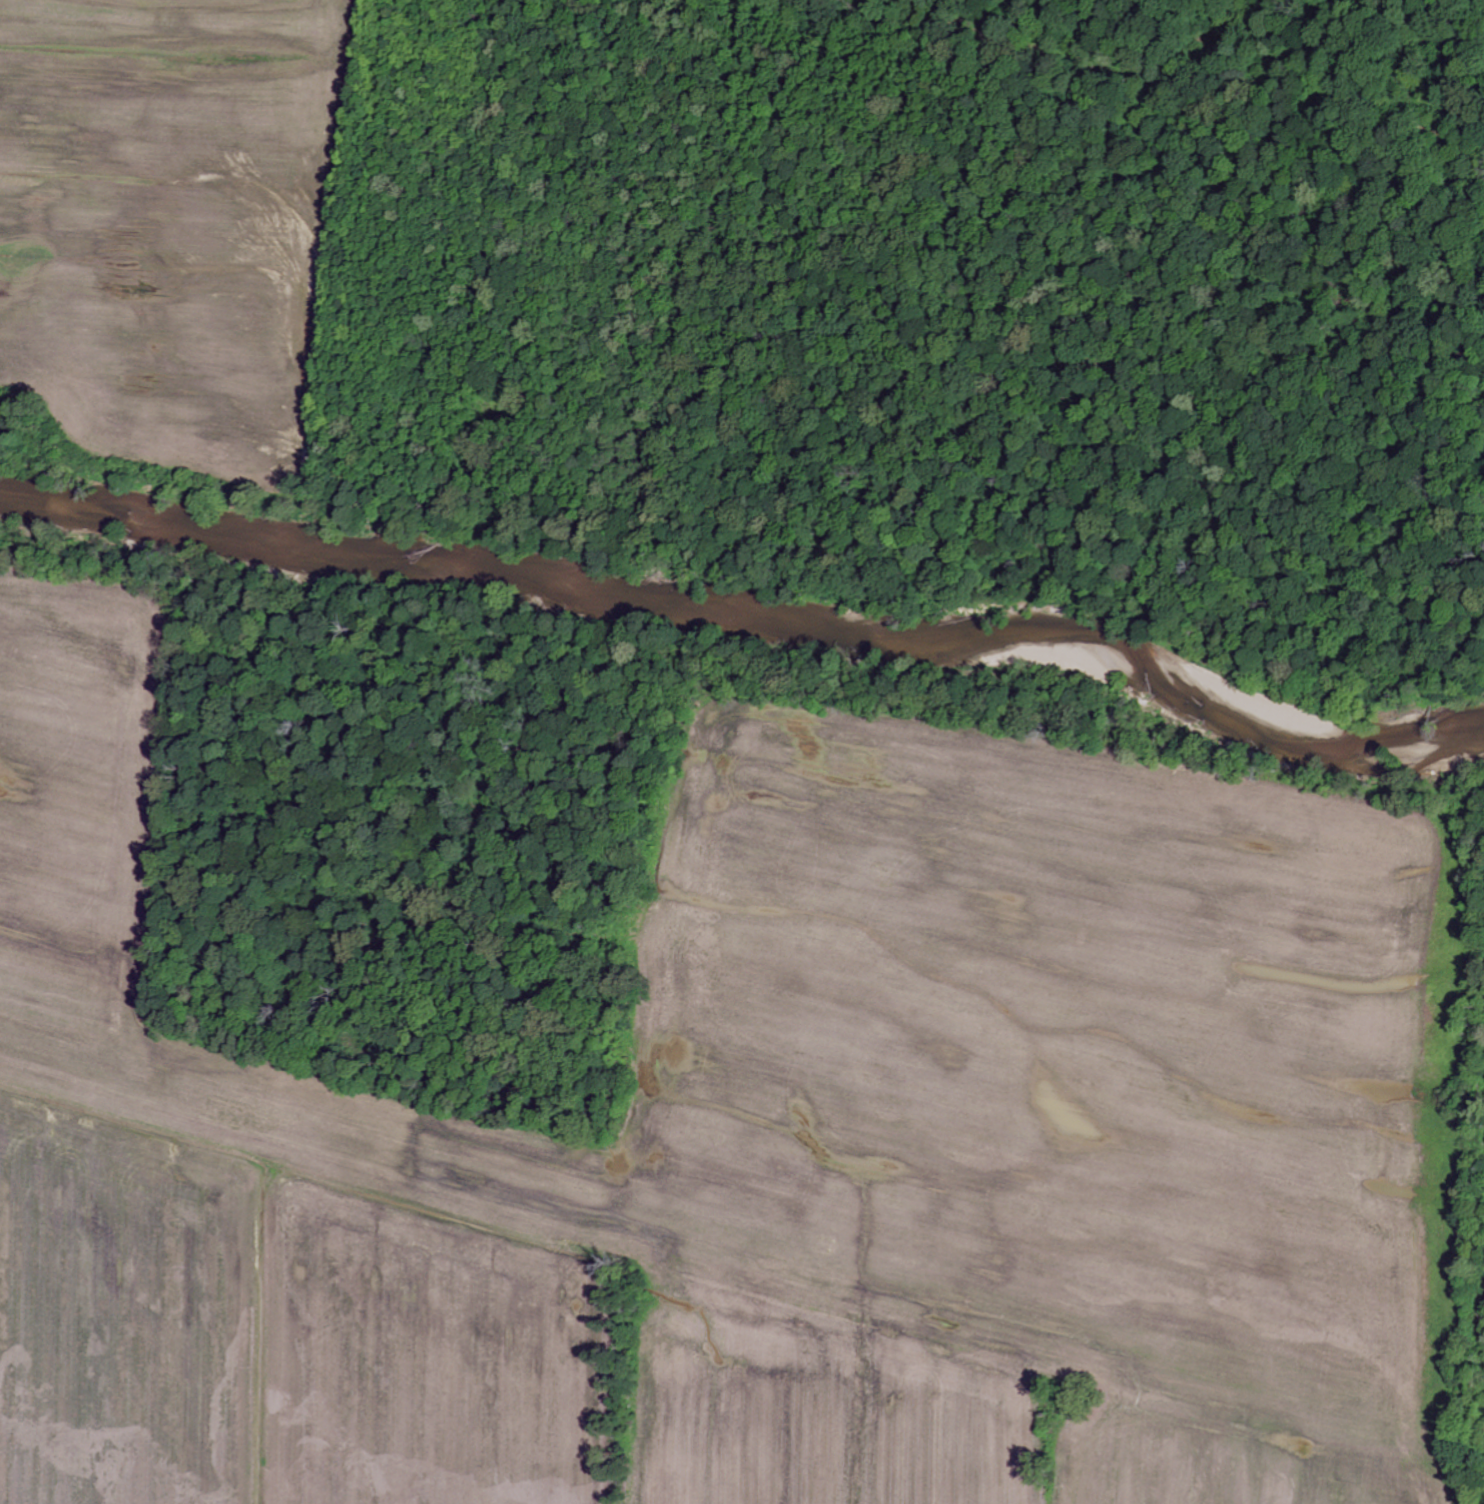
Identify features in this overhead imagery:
river: (764, 611)

